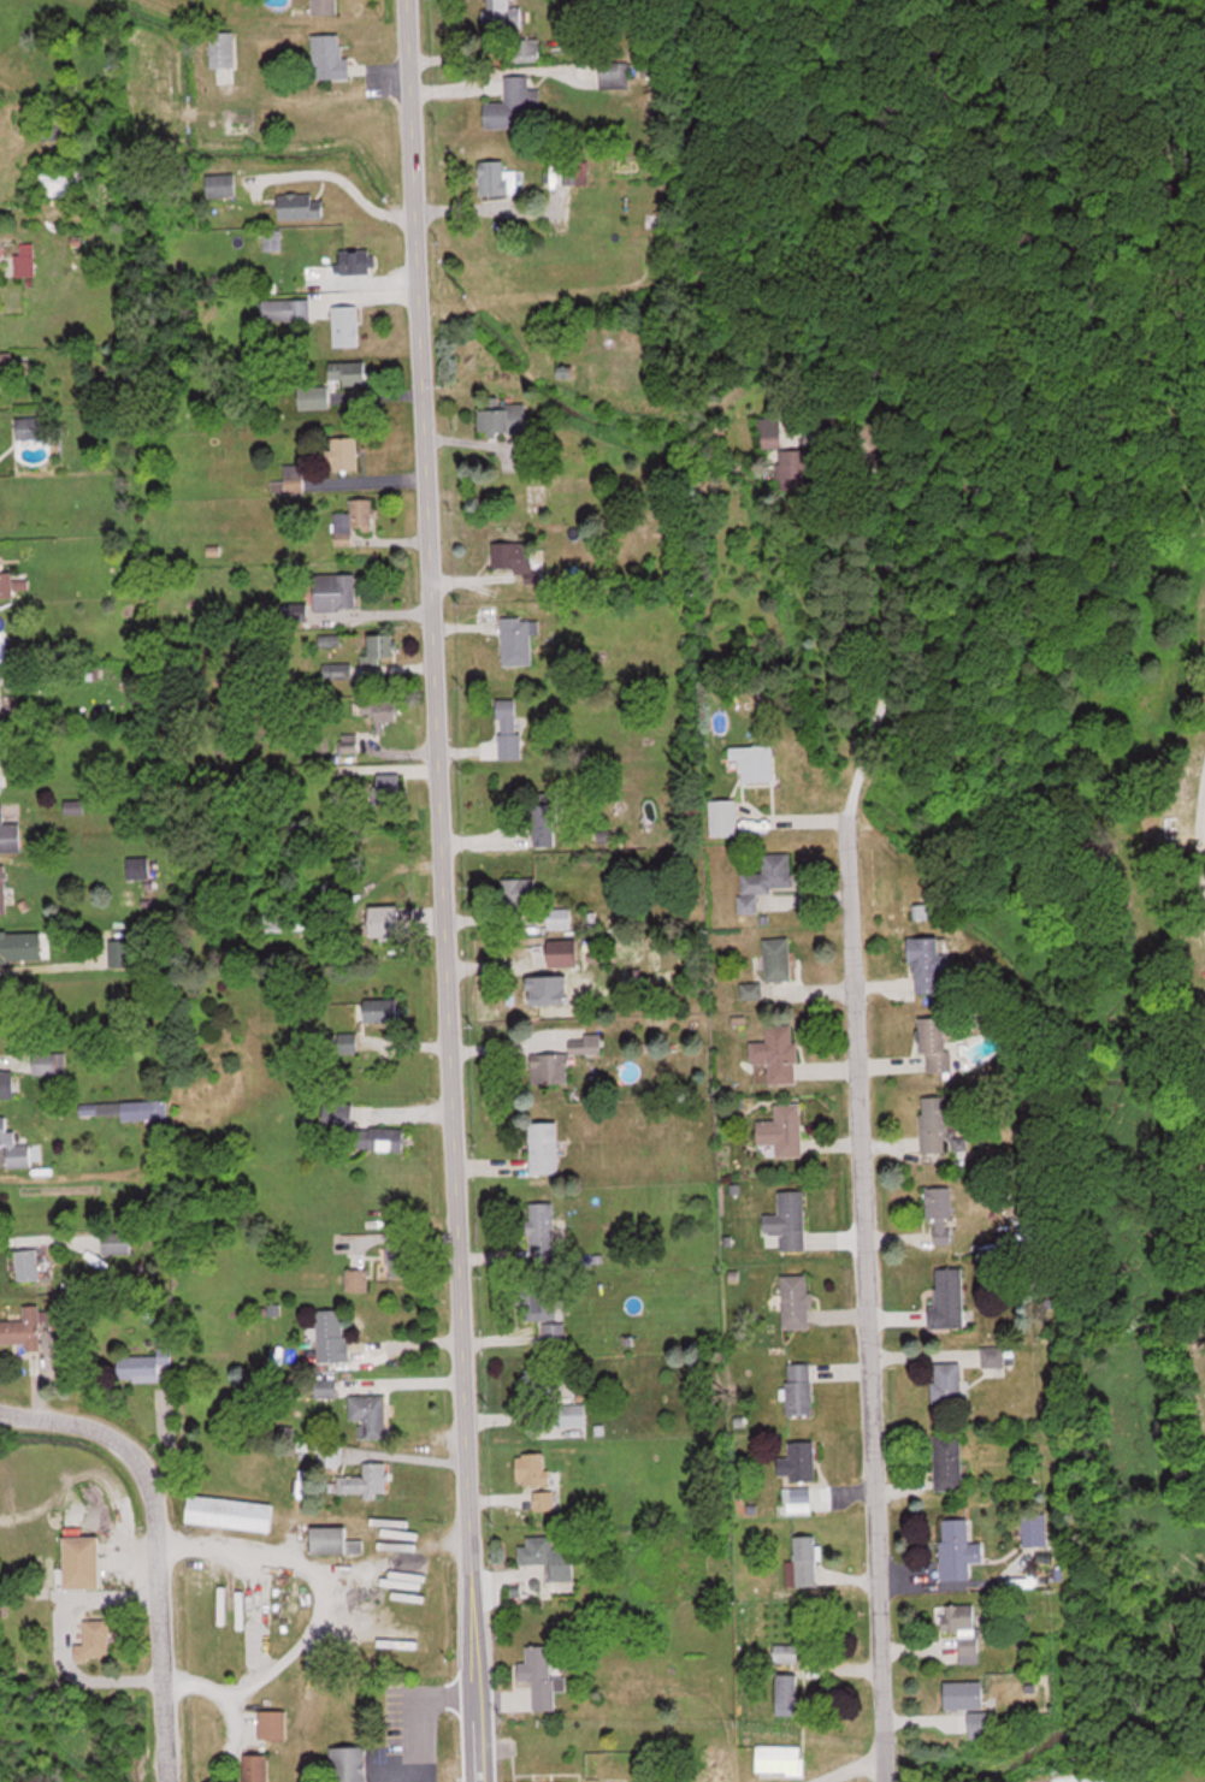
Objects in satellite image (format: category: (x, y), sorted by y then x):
building: (325, 6)
building: (512, 28)
building: (223, 48)
building: (330, 55)
building: (614, 73)
building: (513, 103)
building: (567, 171)
building: (497, 177)
building: (59, 179)
building: (221, 183)
building: (301, 205)
building: (272, 238)
building: (26, 257)
building: (359, 260)
building: (287, 308)
building: (347, 324)
building: (6, 363)
building: (348, 371)
building: (566, 371)
building: (313, 397)
building: (503, 418)
building: (31, 427)
building: (772, 431)
building: (344, 452)
building: (797, 467)
building: (294, 478)
building: (354, 520)
building: (6, 584)
building: (336, 591)
building: (518, 640)
building: (1, 645)
building: (380, 649)
building: (337, 670)
building: (17, 677)
building: (0, 698)
building: (382, 711)
building: (507, 716)
building: (757, 762)
building: (391, 783)
building: (725, 817)
building: (547, 823)
building: (10, 835)
road: (1199, 842)
building: (138, 866)
building: (772, 875)
road: (1204, 888)
road: (436, 890)
building: (519, 892)
building: (925, 911)
building: (560, 917)
building: (386, 920)
building: (271, 922)
building: (4, 946)
building: (563, 952)
building: (778, 958)
building: (927, 964)
building: (542, 989)
park: (1114, 1007)
building: (383, 1010)
building: (348, 1041)
building: (937, 1043)
building: (778, 1052)
building: (562, 1059)
building: (48, 1061)
road: (849, 1072)
building: (5, 1083)
building: (124, 1108)
building: (937, 1121)
building: (784, 1129)
building: (383, 1137)
building: (14, 1145)
building: (544, 1145)
building: (941, 1213)
building: (788, 1220)
building: (543, 1231)
building: (117, 1242)
building: (403, 1257)
building: (28, 1263)
building: (949, 1296)
building: (797, 1301)
building: (547, 1304)
building: (23, 1328)
building: (554, 1332)
building: (332, 1334)
building: (994, 1356)
building: (146, 1366)
building: (548, 1380)
building: (947, 1381)
building: (326, 1387)
building: (801, 1389)
building: (368, 1414)
building: (571, 1414)
building: (949, 1461)
building: (799, 1462)
building: (536, 1469)
building: (364, 1480)
building: (544, 1499)
building: (230, 1511)
building: (335, 1540)
road: (148, 1549)
building: (956, 1549)
building: (549, 1556)
building: (82, 1561)
building: (805, 1561)
building: (963, 1626)
building: (95, 1640)
building: (786, 1653)
building: (541, 1675)
building: (624, 1692)
building: (426, 1693)
building: (788, 1694)
building: (965, 1694)
building: (273, 1724)
building: (430, 1727)
building: (780, 1760)
building: (350, 1764)
building: (258, 1768)

